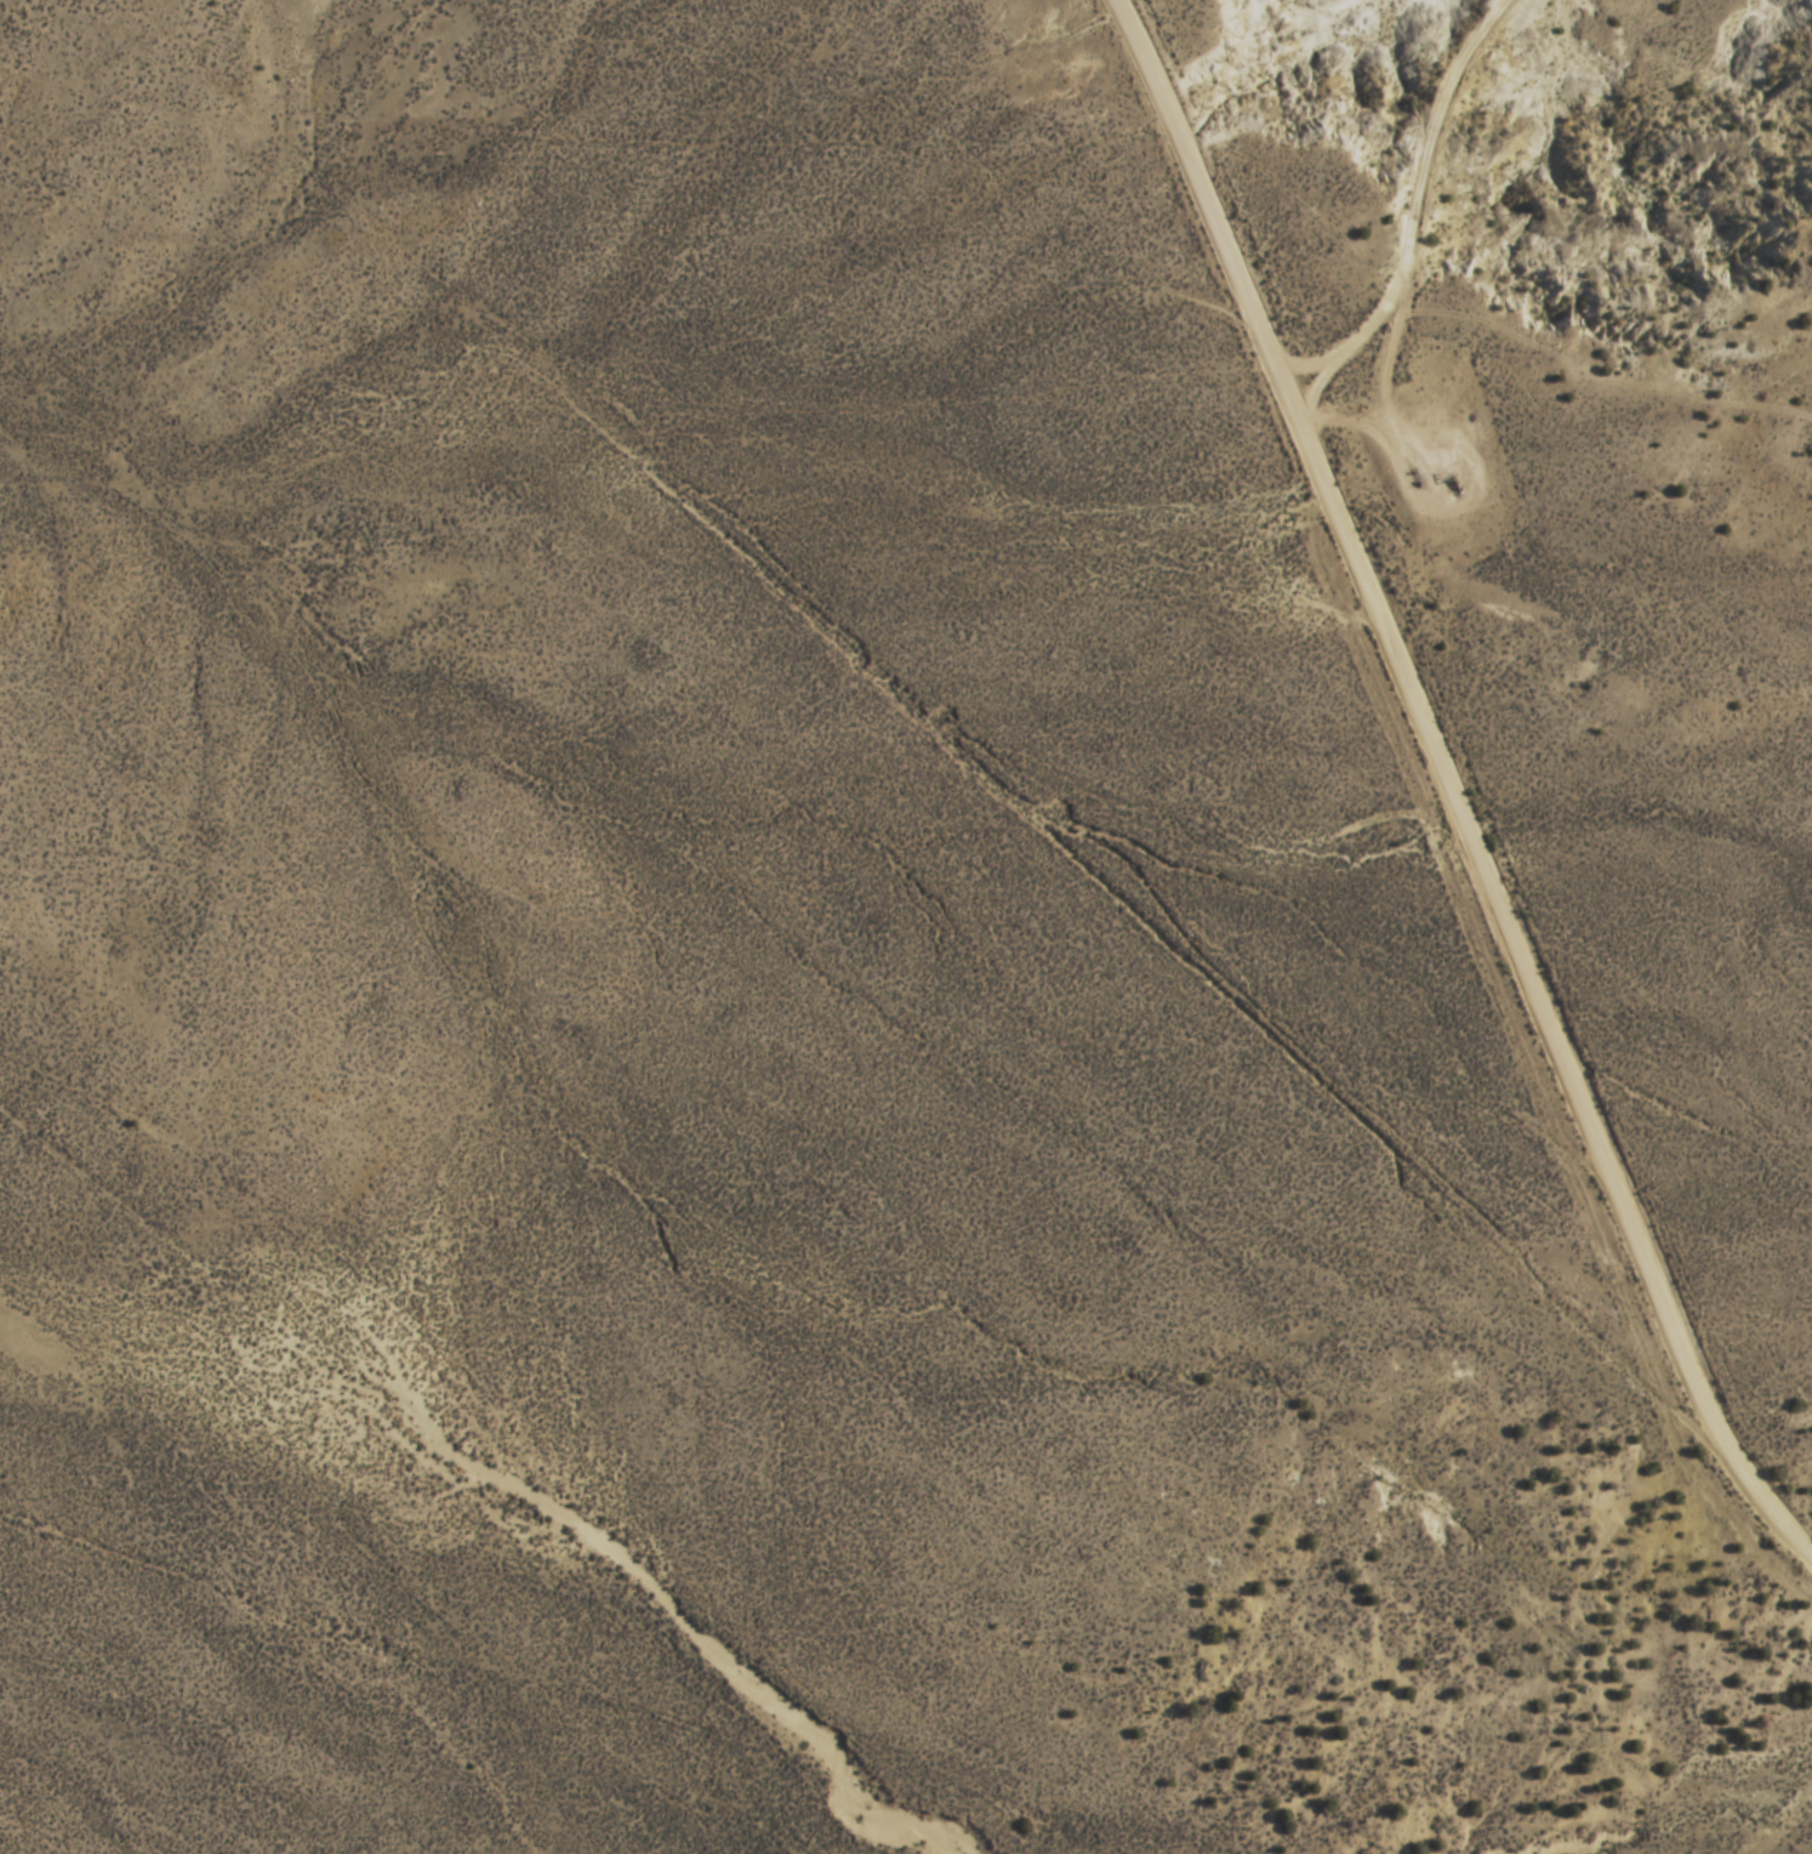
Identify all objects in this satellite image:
road: (1417, 214)
road: (1449, 785)

